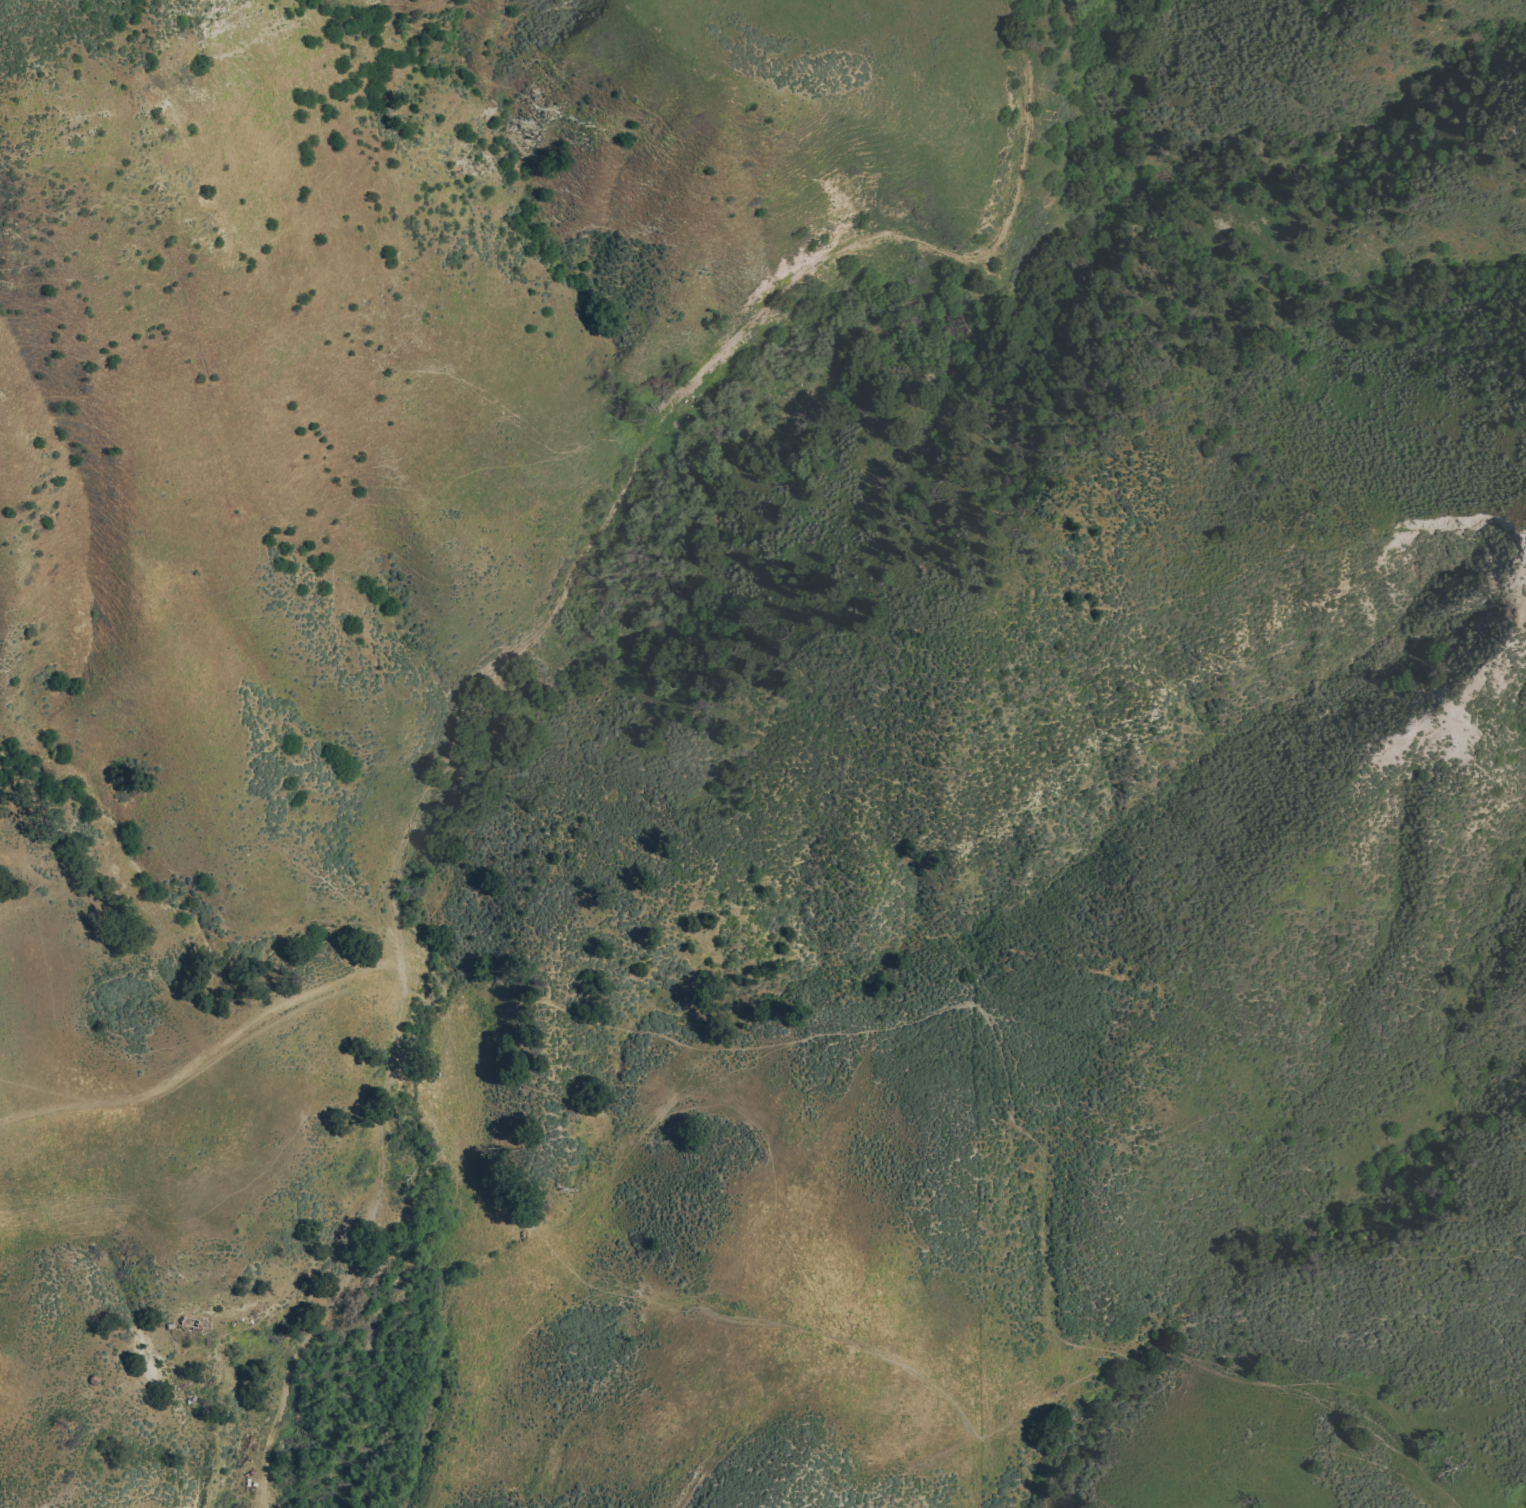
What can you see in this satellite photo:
road: (1029, 54)
road: (474, 675)
road: (208, 1061)

